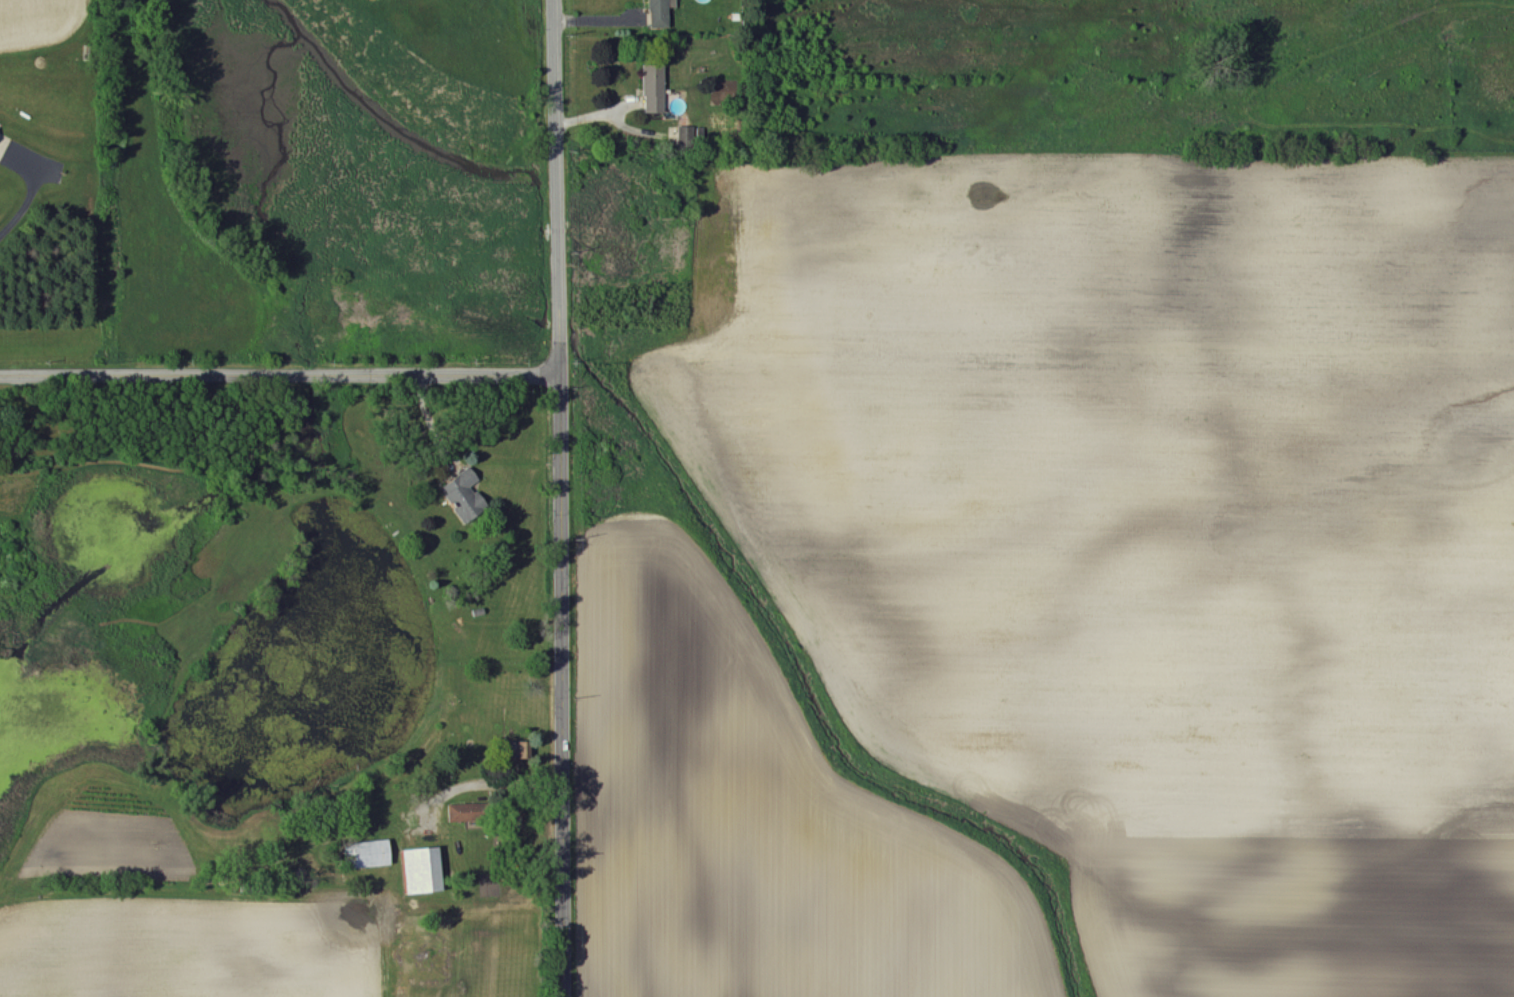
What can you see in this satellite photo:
building: (655, 14)
building: (651, 89)
building: (3, 146)
road: (557, 188)
road: (19, 205)
road: (279, 377)
building: (461, 495)
road: (564, 687)
building: (508, 750)
road: (488, 784)
building: (368, 855)
building: (419, 871)

